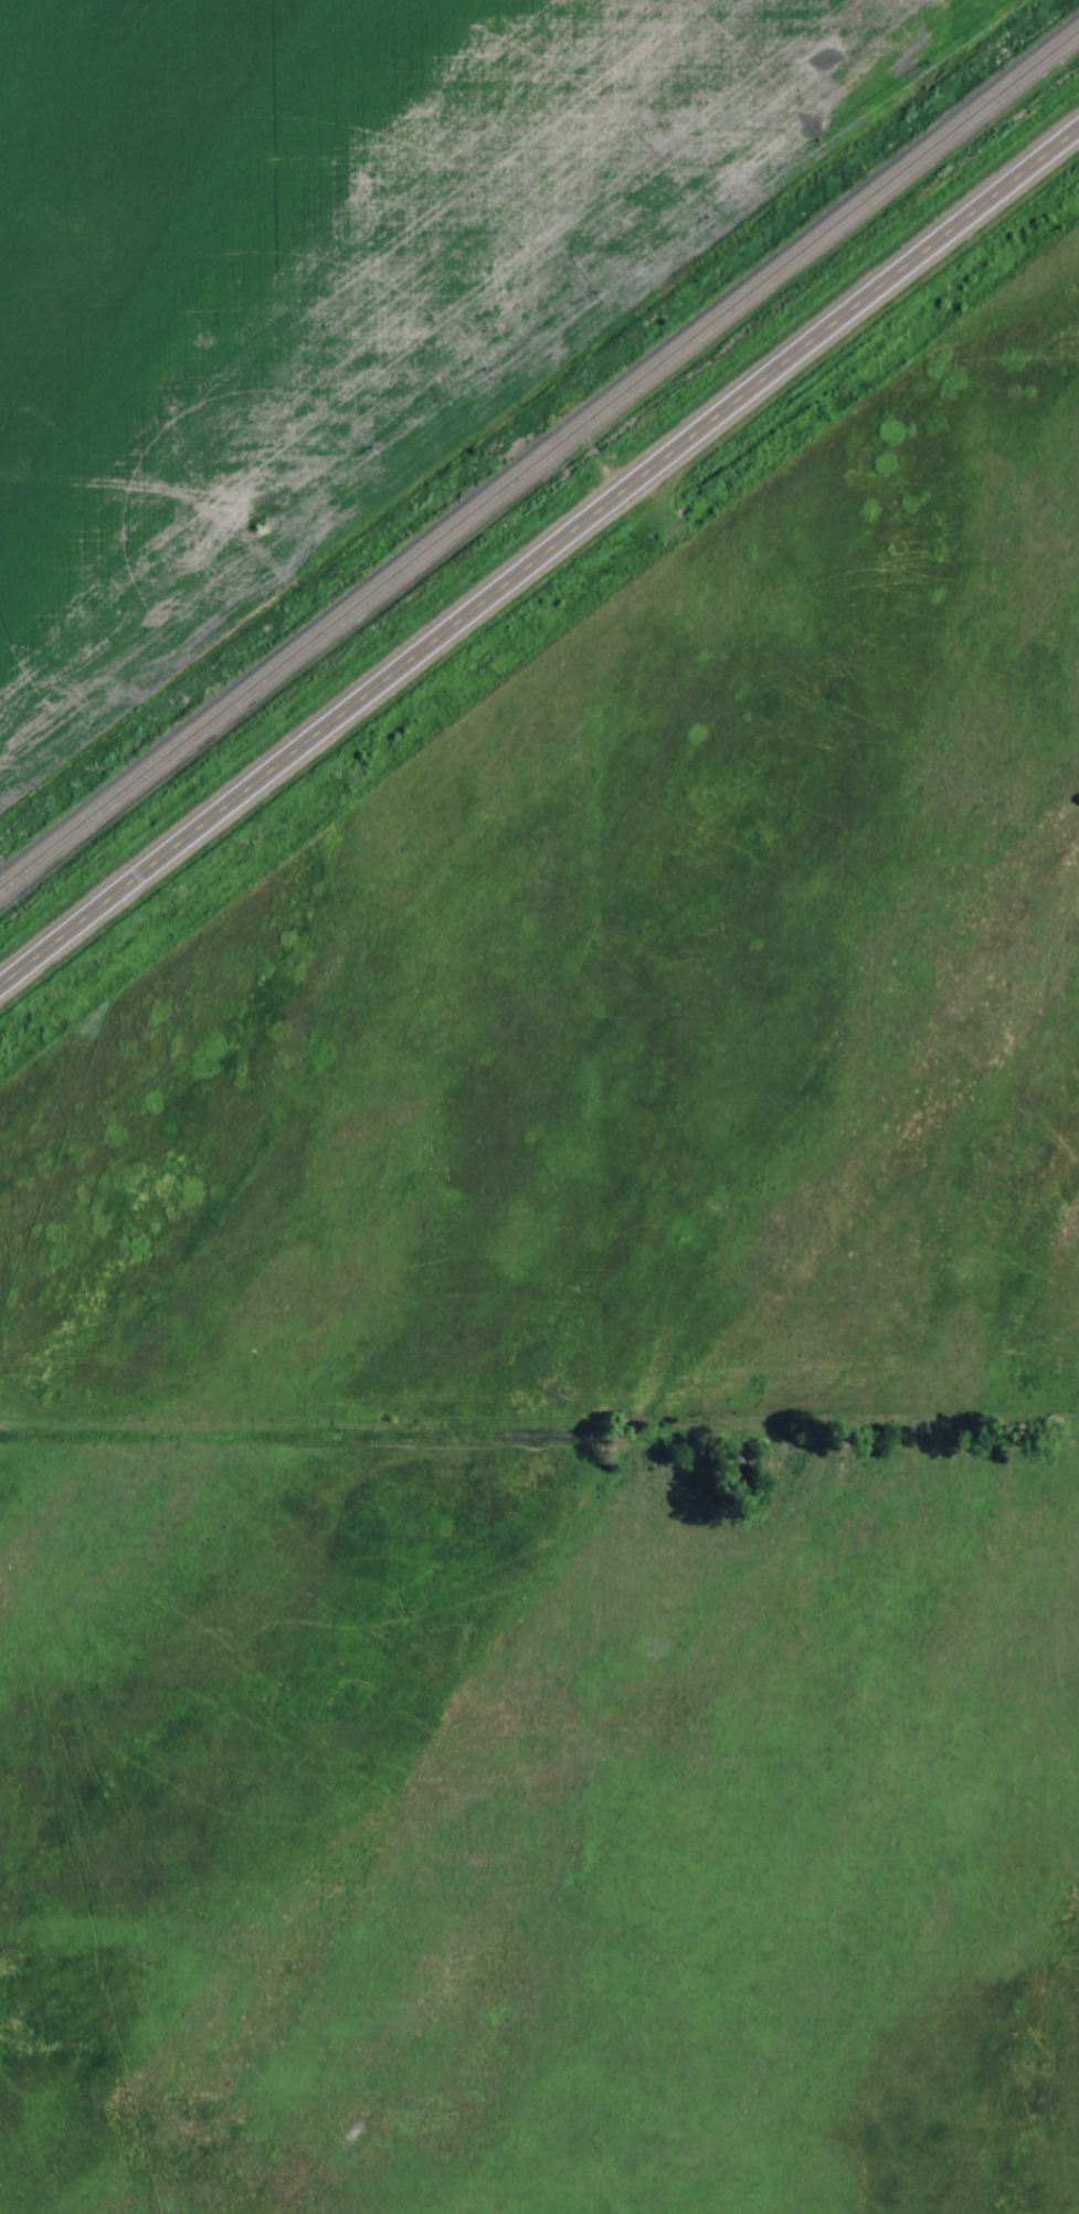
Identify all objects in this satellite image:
railway: (539, 448)
railway: (540, 463)
road: (540, 558)

